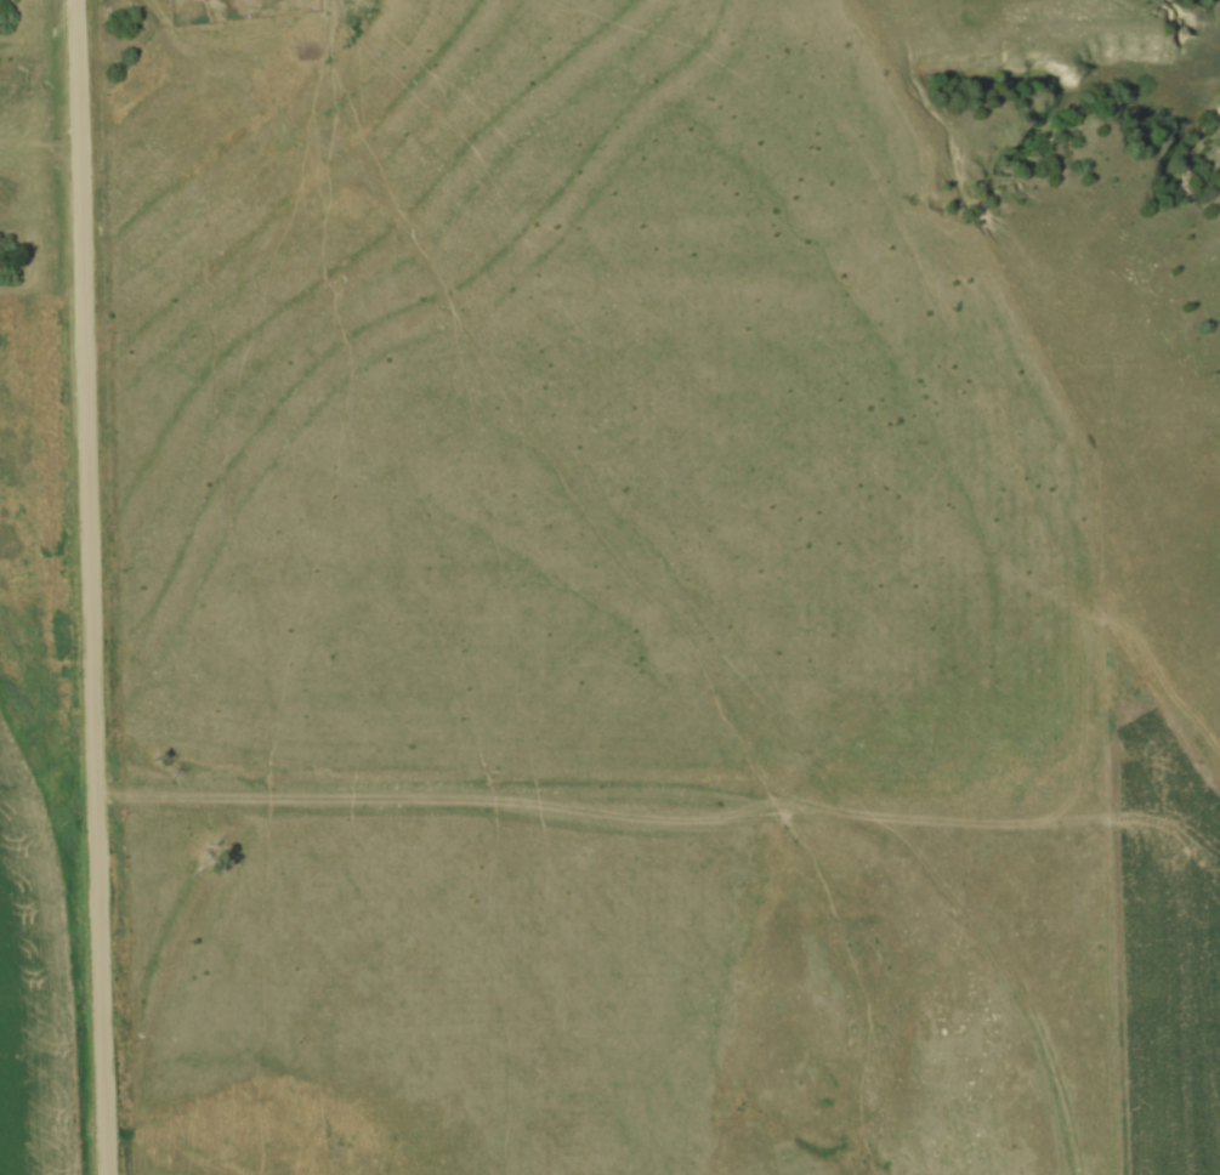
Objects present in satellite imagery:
road: (89, 587)

